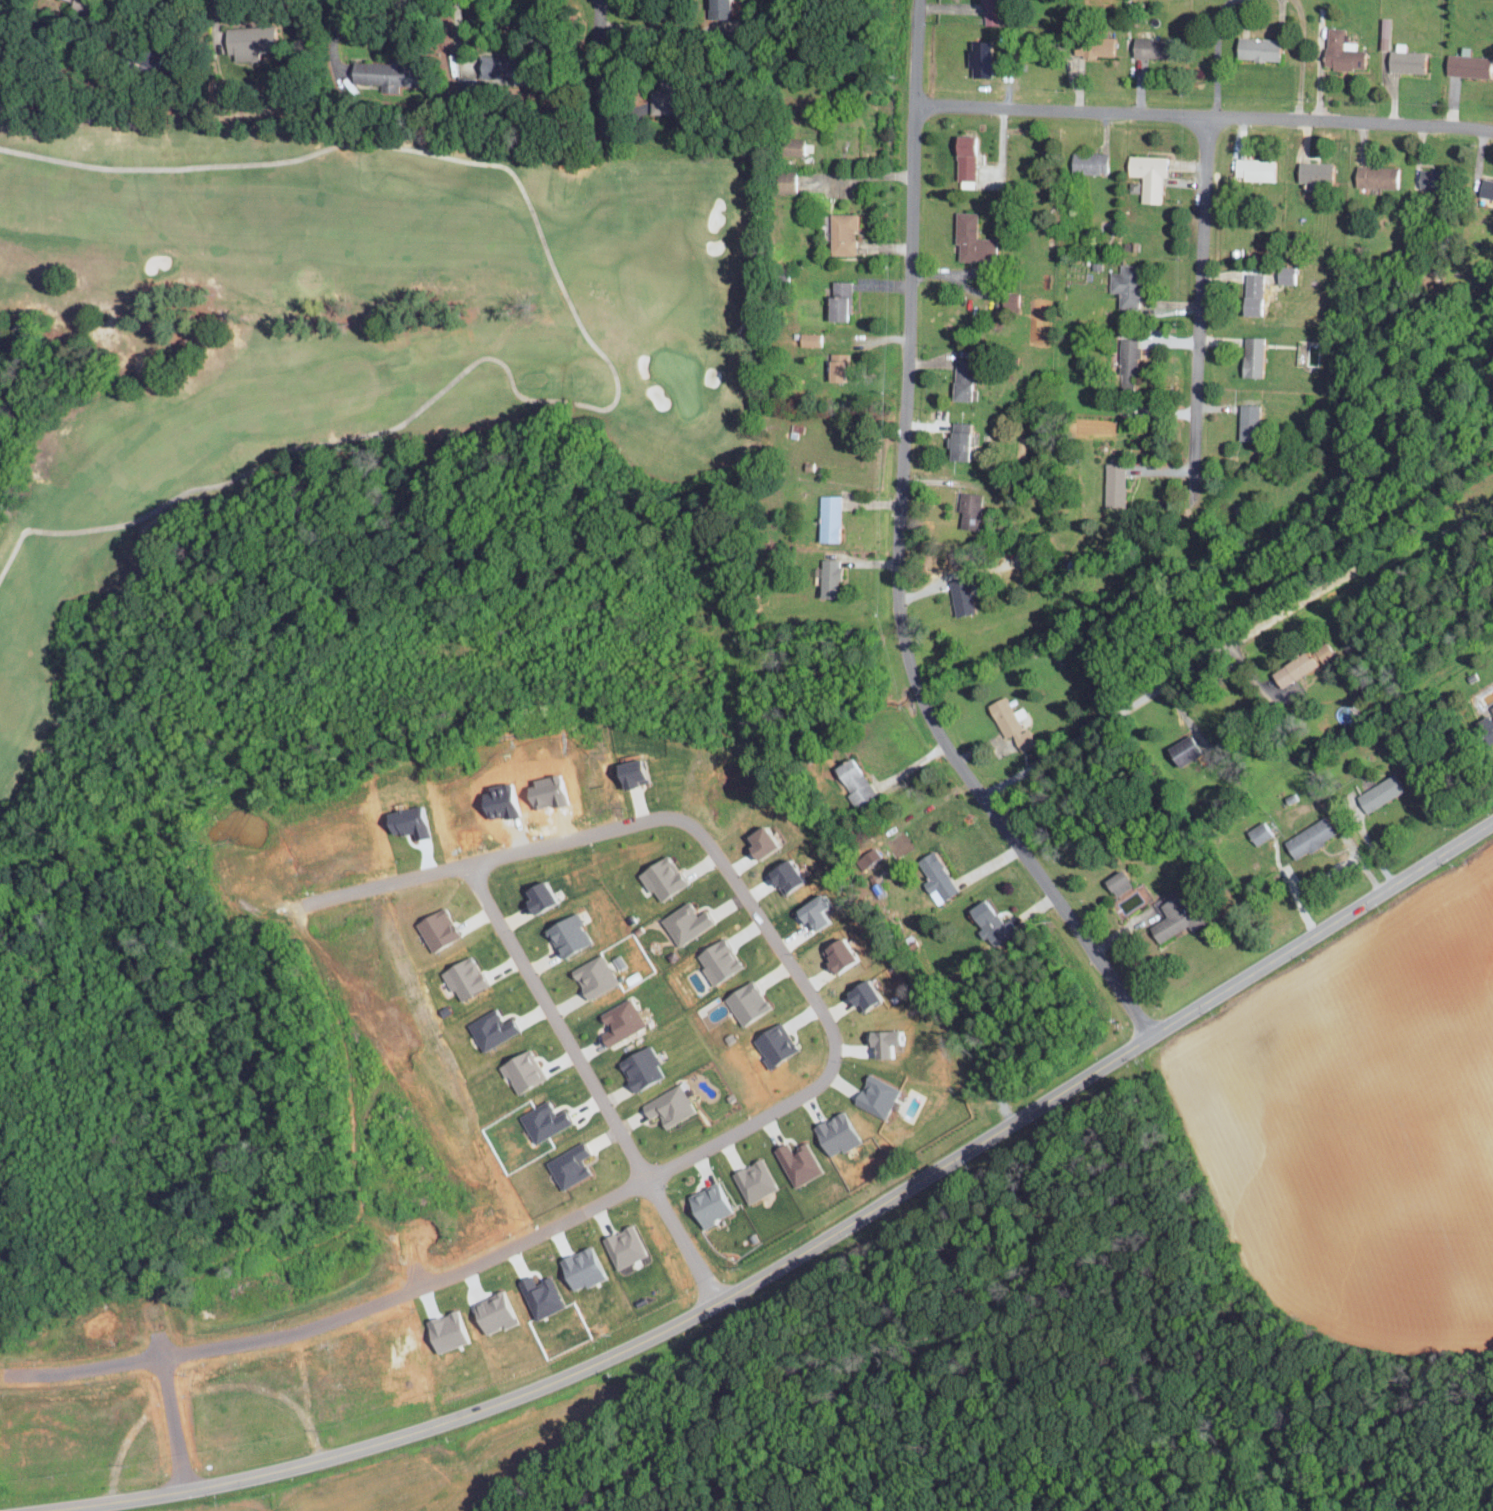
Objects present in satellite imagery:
building: (82, 5)
building: (717, 8)
road: (659, 30)
building: (1384, 33)
road: (334, 39)
building: (250, 40)
building: (1144, 46)
building: (1256, 48)
building: (1340, 51)
road: (1216, 54)
building: (146, 57)
building: (978, 57)
road: (1300, 59)
building: (1404, 61)
building: (508, 64)
building: (1466, 65)
road: (598, 67)
building: (386, 74)
building: (669, 94)
road: (1204, 115)
building: (963, 157)
building: (1087, 162)
building: (1252, 168)
building: (1312, 171)
building: (1148, 174)
road: (860, 175)
building: (1374, 176)
building: (784, 181)
building: (1485, 188)
building: (841, 233)
building: (969, 239)
road: (1200, 274)
building: (1124, 285)
building: (1250, 294)
building: (836, 301)
park: (334, 323)
building: (809, 339)
building: (1251, 356)
building: (1129, 361)
building: (835, 366)
road: (612, 369)
park: (680, 378)
building: (962, 379)
building: (1246, 422)
building: (957, 440)
building: (1113, 484)
building: (968, 510)
building: (828, 518)
road: (901, 554)
building: (830, 576)
building: (960, 595)
road: (1238, 639)
building: (1300, 663)
building: (1005, 718)
building: (1485, 726)
building: (1181, 750)
building: (630, 773)
building: (853, 781)
building: (1378, 793)
building: (1257, 833)
building: (1306, 838)
building: (755, 843)
building: (867, 857)
building: (780, 876)
building: (659, 877)
building: (934, 878)
building: (1116, 882)
building: (533, 896)
building: (809, 913)
building: (1170, 920)
building: (683, 923)
building: (988, 923)
building: (565, 934)
building: (833, 954)
building: (715, 960)
building: (591, 976)
building: (858, 994)
building: (744, 1002)
building: (618, 1022)
building: (772, 1044)
building: (880, 1044)
building: (638, 1068)
building: (519, 1070)
road: (589, 1084)
building: (875, 1095)
building: (667, 1106)
building: (541, 1121)
road: (741, 1127)
building: (836, 1133)
building: (796, 1163)
building: (566, 1165)
building: (752, 1180)
building: (707, 1204)
building: (622, 1246)
road: (801, 1250)
building: (539, 1296)
road: (173, 1426)
crop: (409, 1477)

